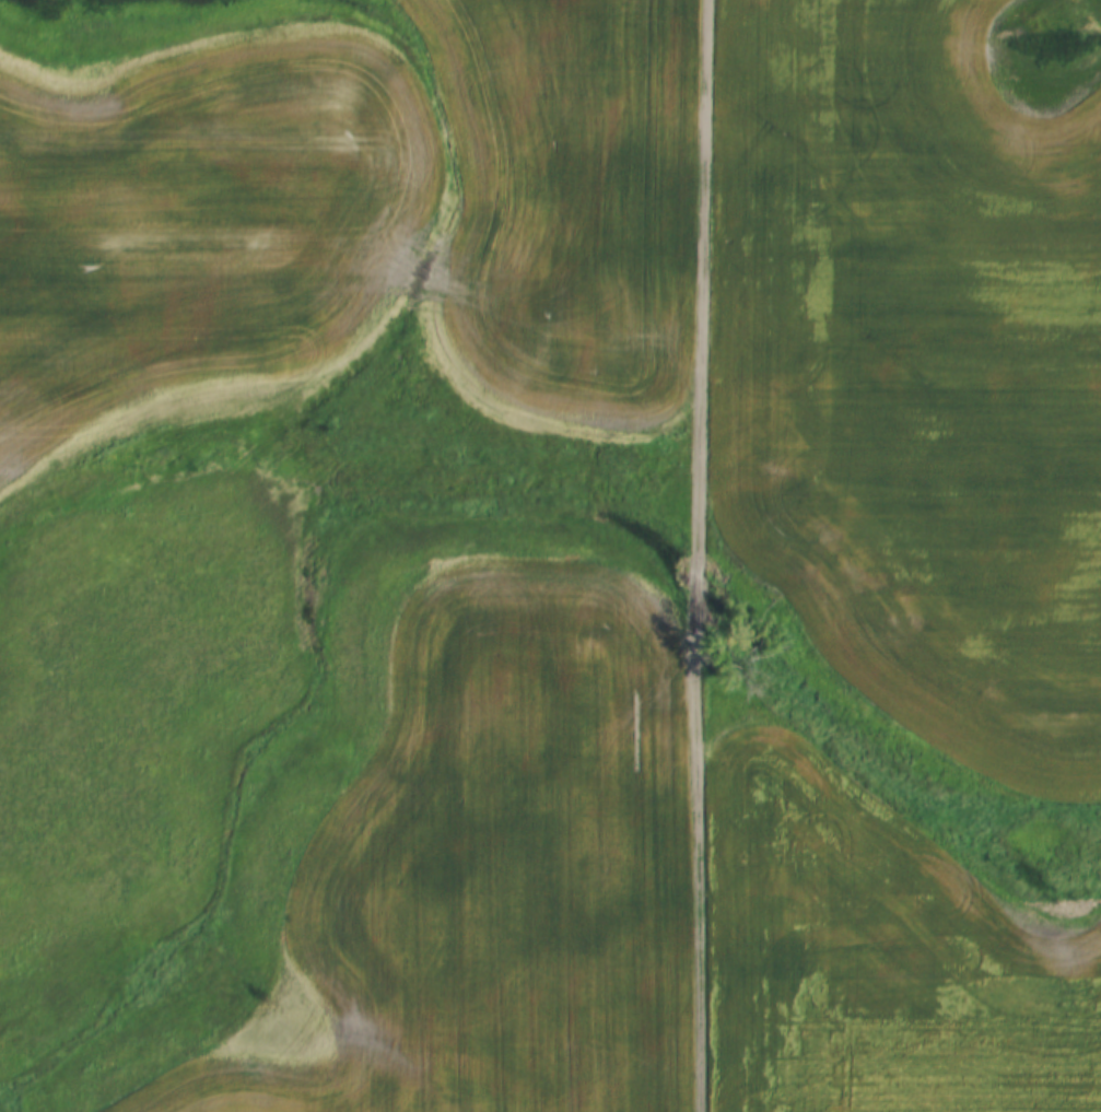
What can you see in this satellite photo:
road: (701, 555)

